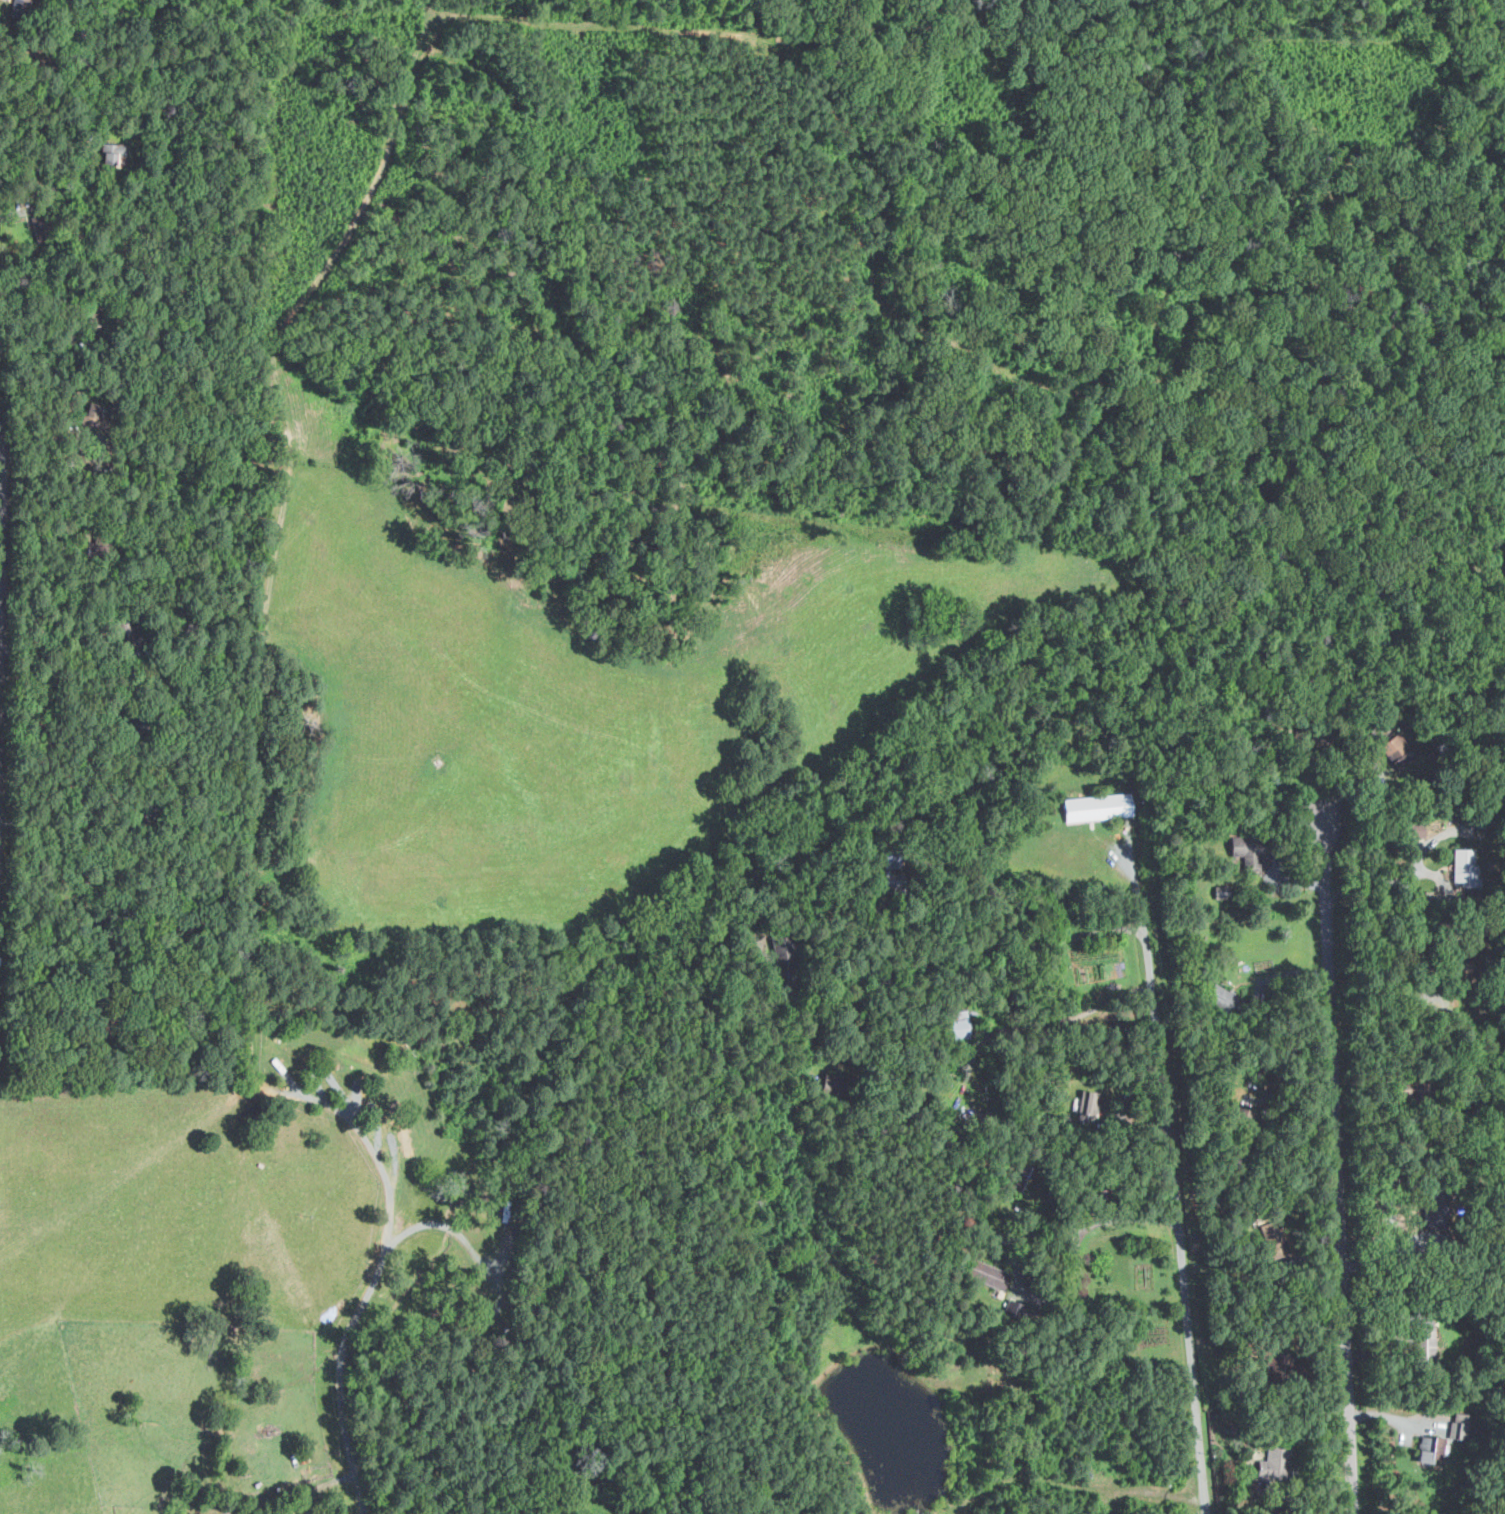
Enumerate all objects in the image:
road: (59, 196)
road: (14, 700)
building: (1098, 807)
road: (62, 823)
road: (1433, 839)
building: (1464, 867)
road: (1409, 880)
building: (1222, 891)
road: (988, 946)
road: (1068, 1019)
building: (408, 1143)
road: (1339, 1173)
building: (1022, 1175)
road: (1167, 1185)
road: (438, 1225)
road: (1081, 1233)
building: (988, 1274)
road: (364, 1297)
building: (1015, 1306)
building: (994, 1375)
building: (1437, 1449)
building: (1275, 1463)

